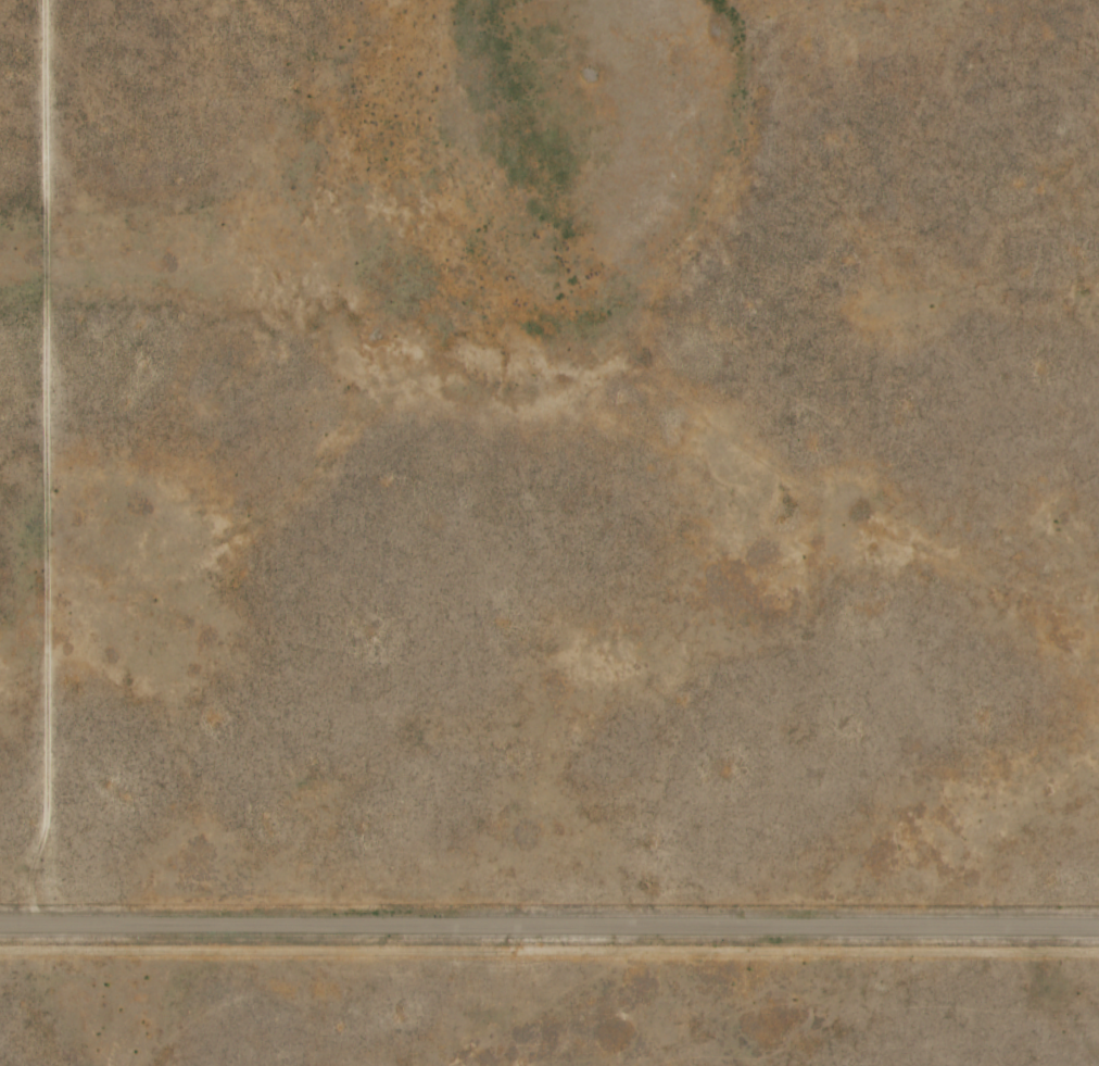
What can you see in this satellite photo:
road: (71, 469)
road: (549, 940)

